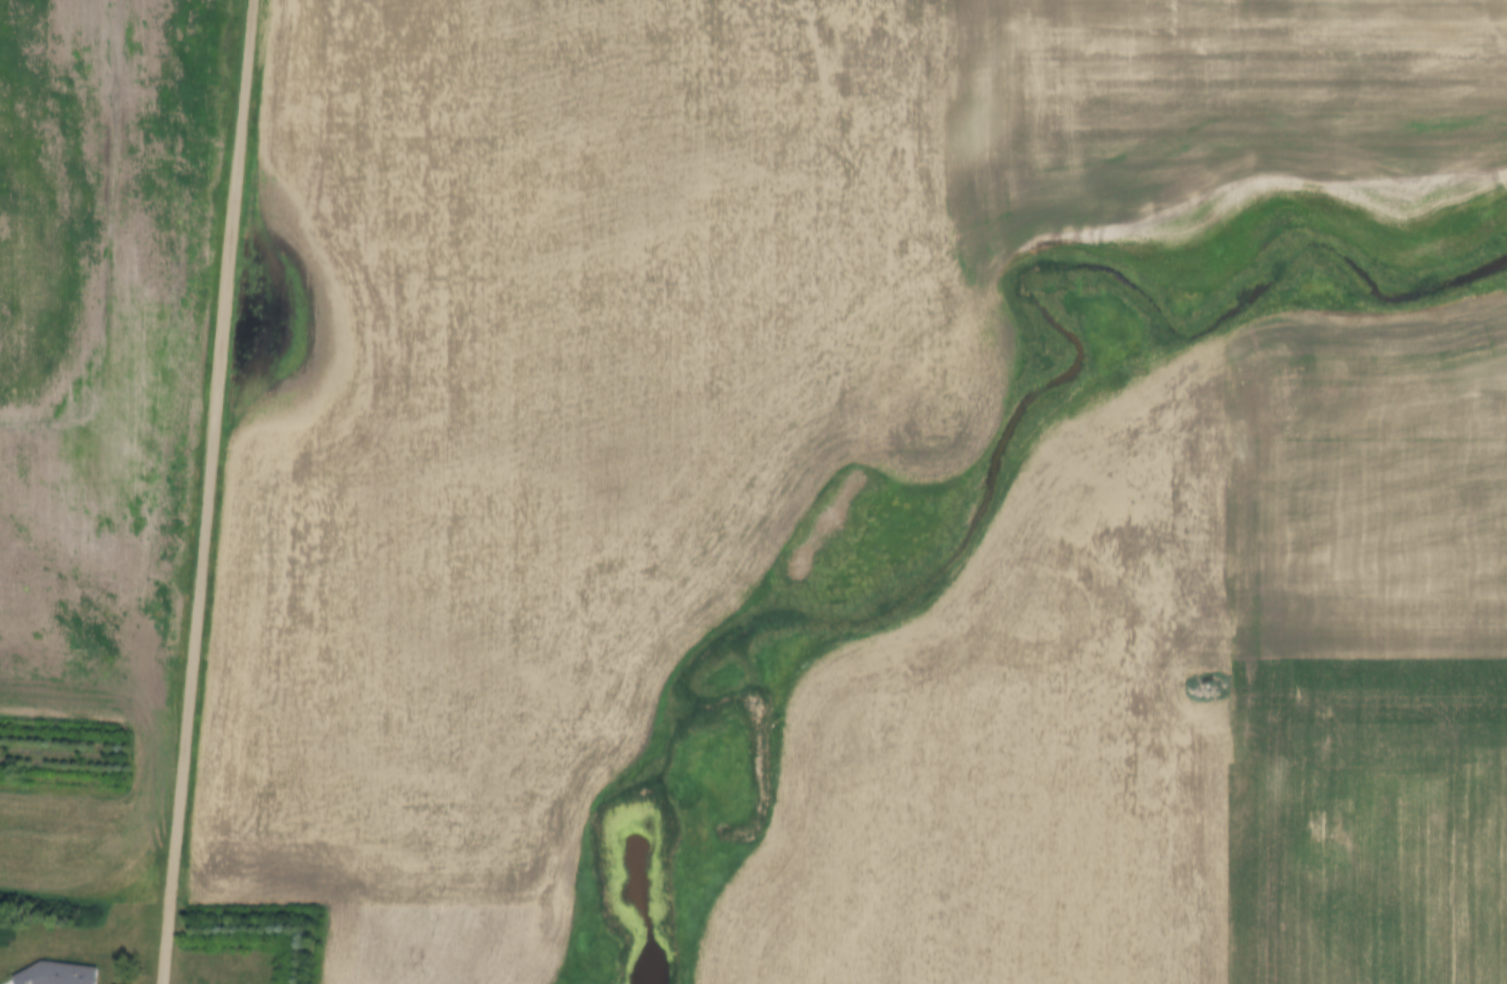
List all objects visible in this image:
road: (211, 492)
building: (59, 975)

